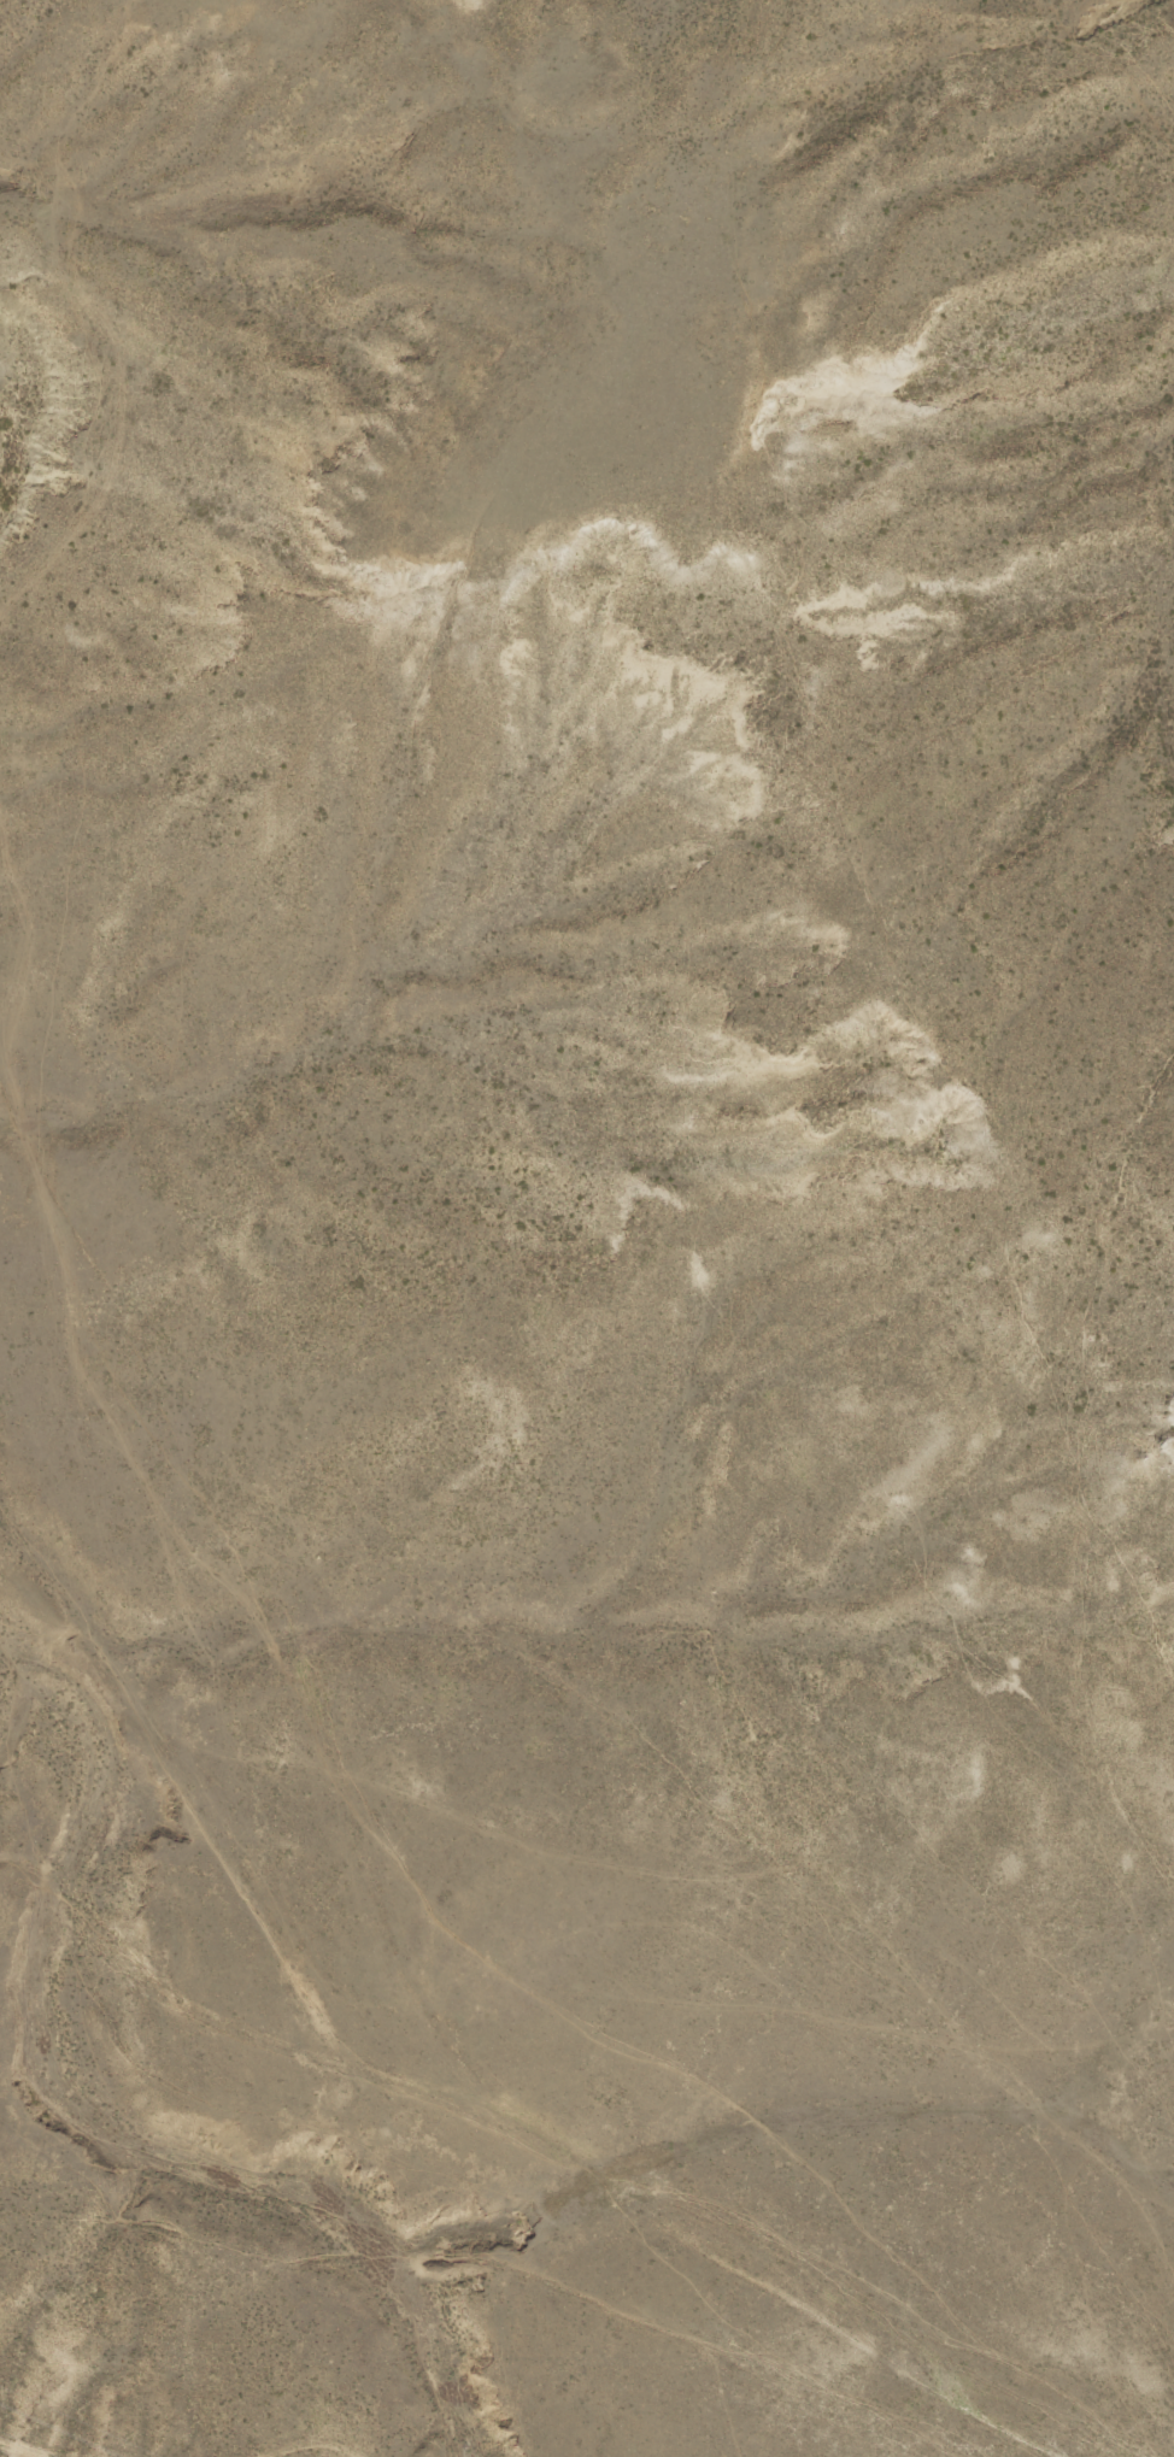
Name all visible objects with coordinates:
road: (453, 2183)

